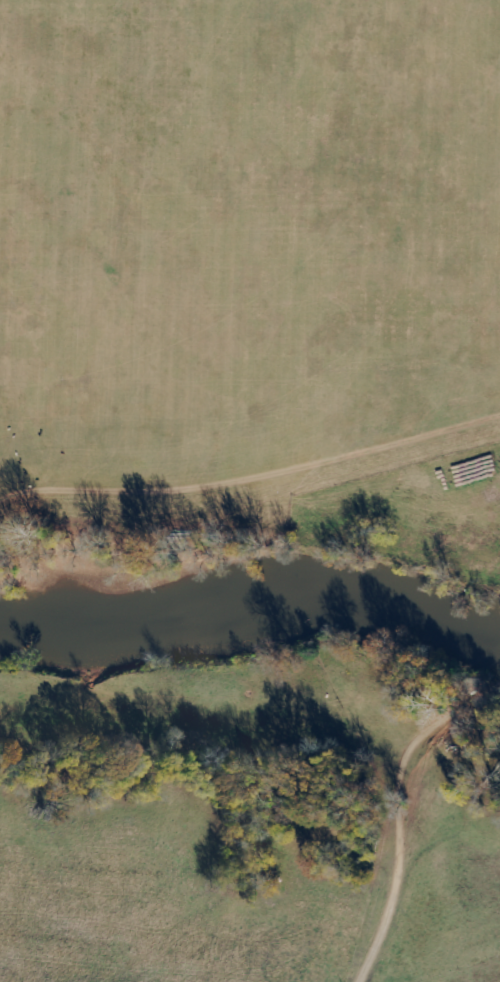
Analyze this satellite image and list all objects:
river: (253, 583)

